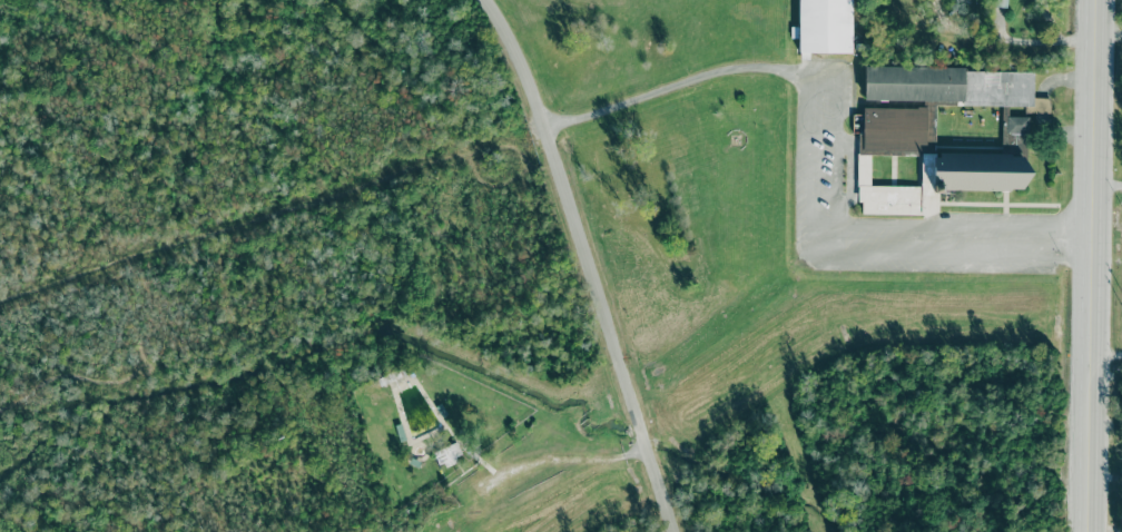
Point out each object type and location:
building: (1000, 3)
building: (824, 27)
road: (677, 83)
building: (953, 86)
building: (1016, 124)
road: (276, 210)
road: (865, 254)
road: (592, 262)
road: (1093, 265)
building: (449, 453)

